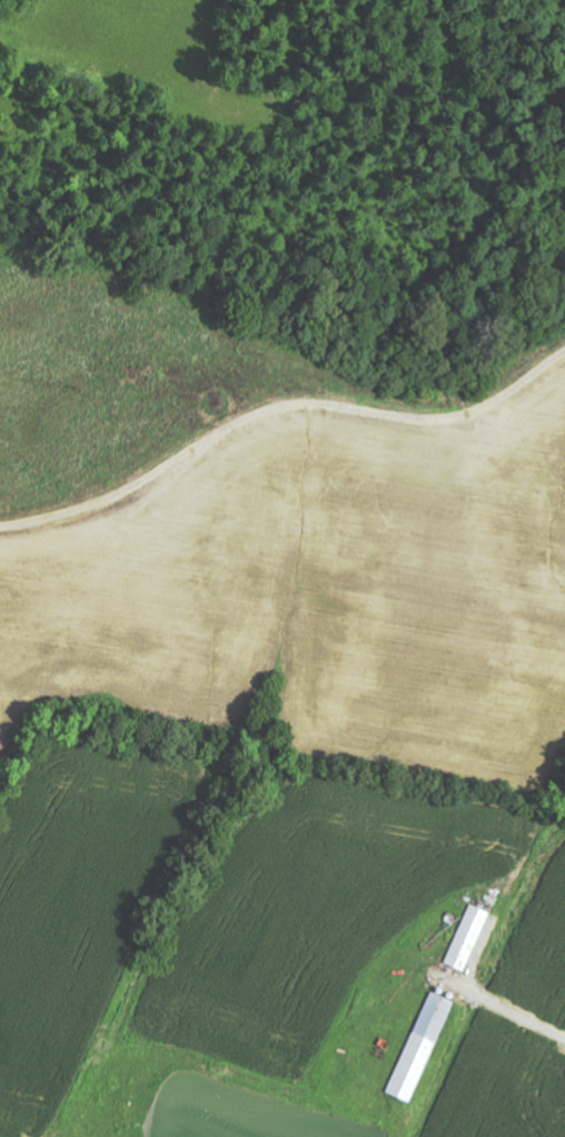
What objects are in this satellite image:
building: (464, 939)
road: (502, 1008)
building: (417, 1049)

